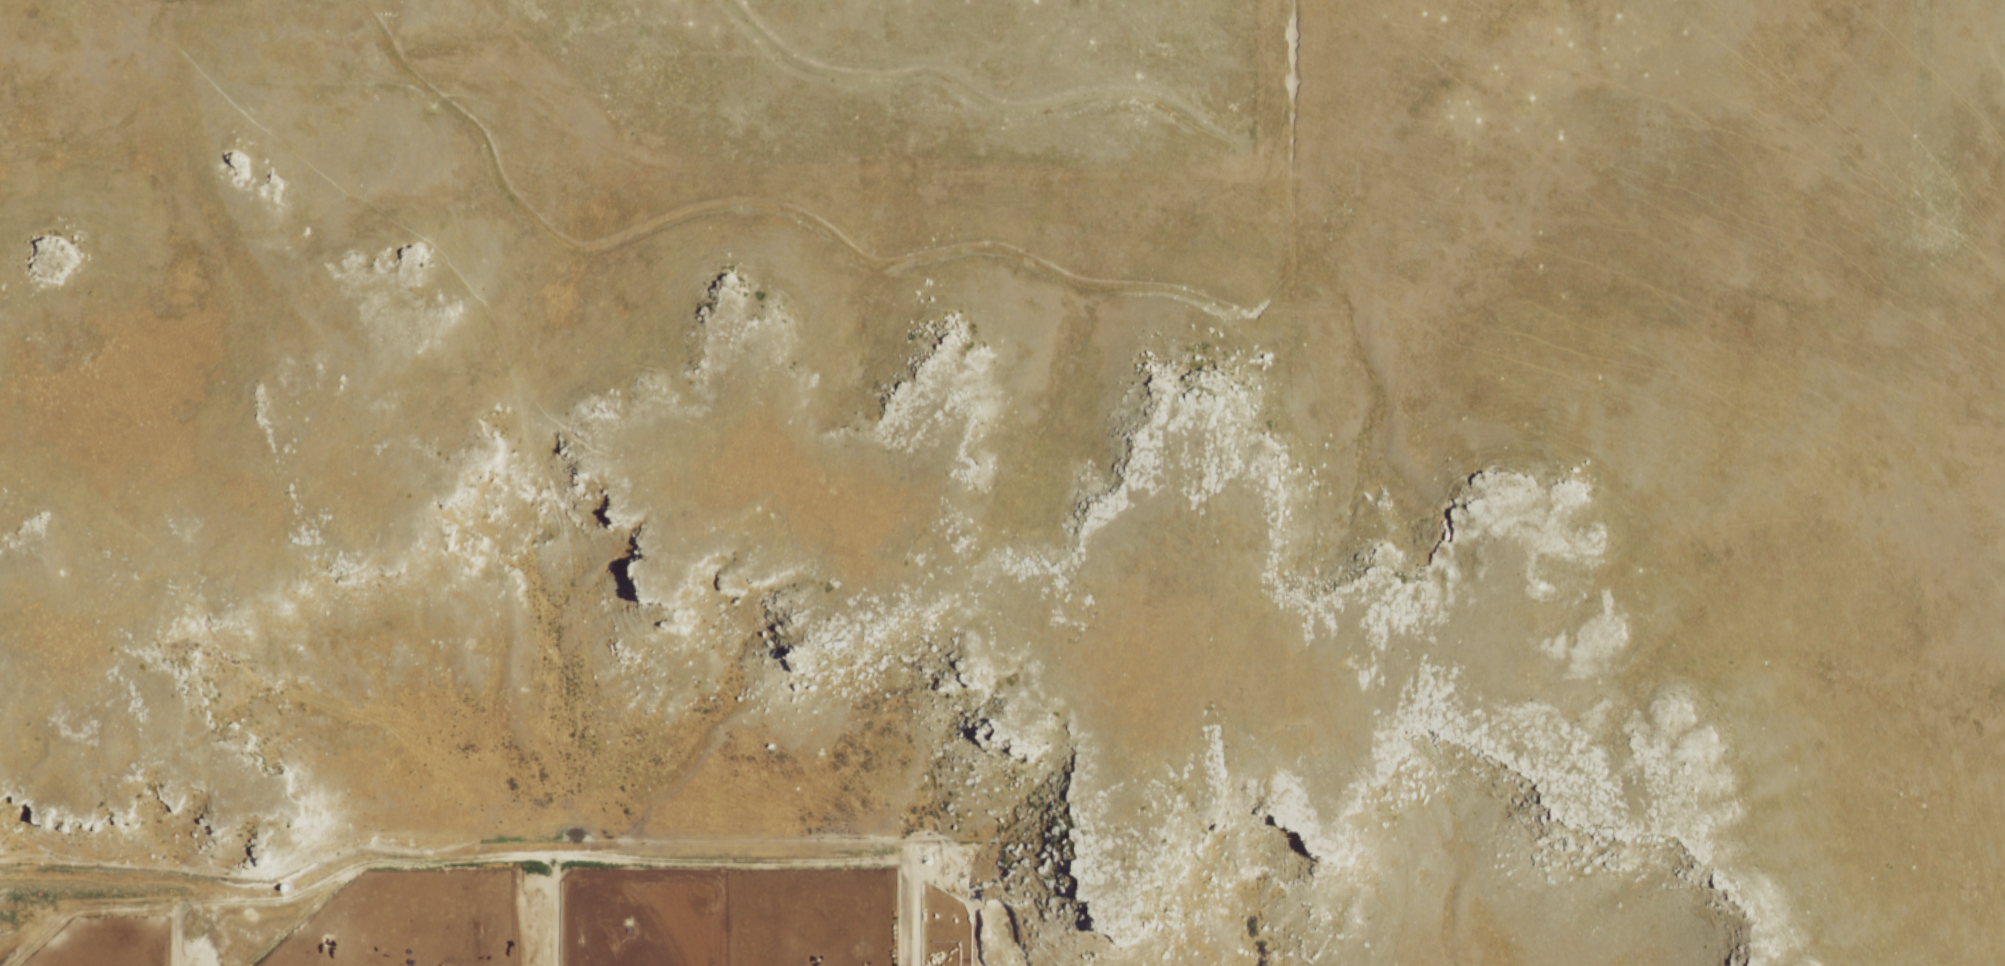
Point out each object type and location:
road: (542, 914)
road: (910, 915)
road: (196, 925)

